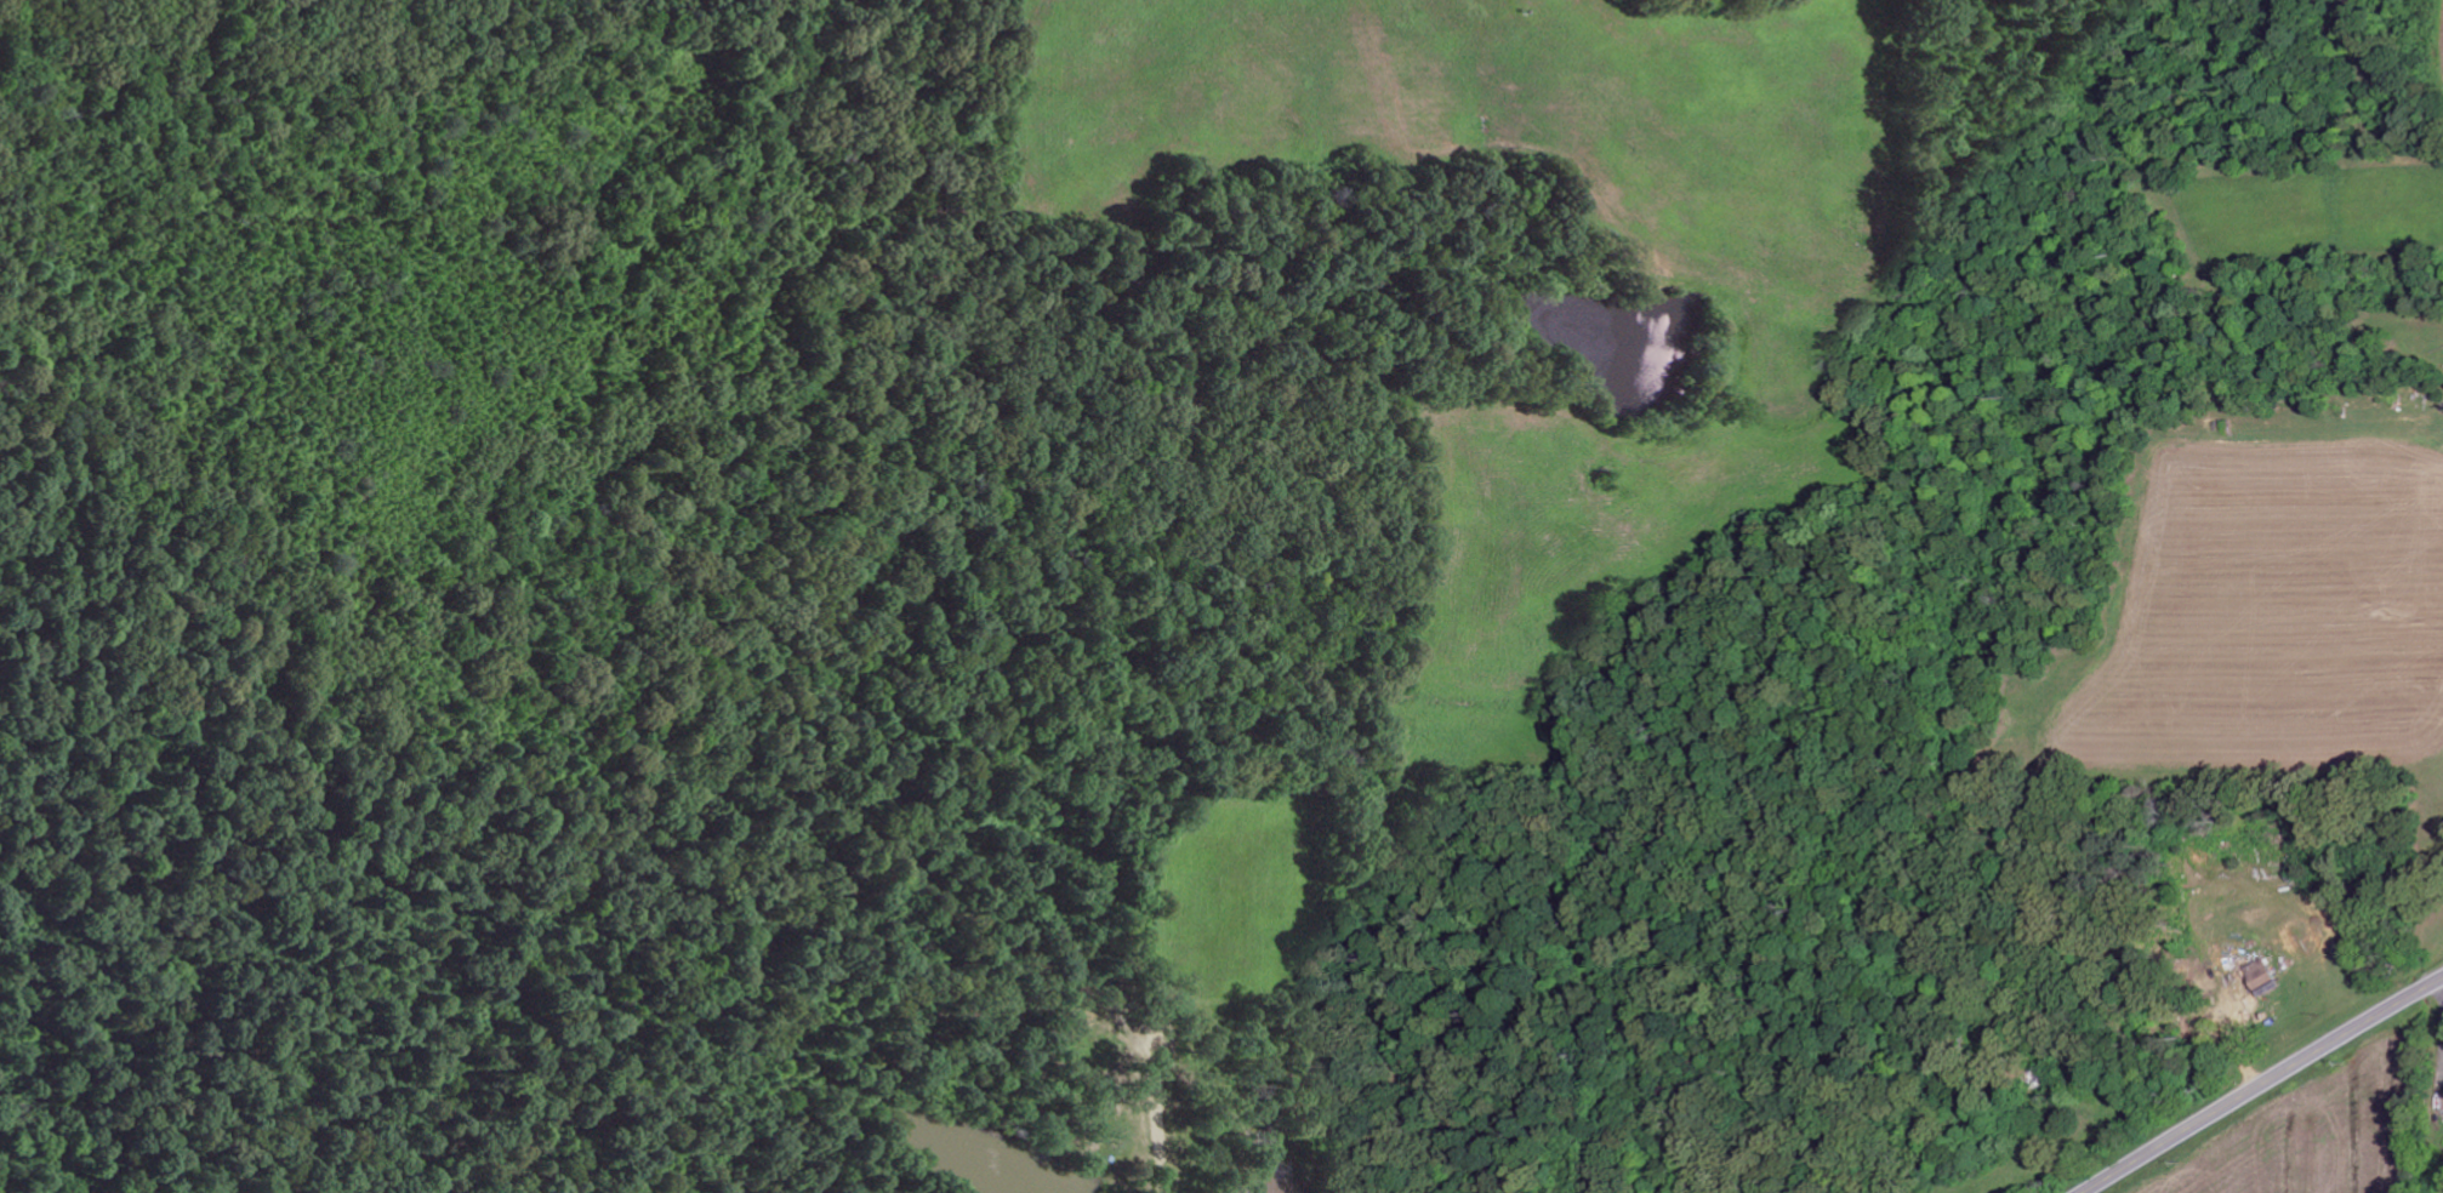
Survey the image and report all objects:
building: (2266, 975)
road: (2260, 1084)

